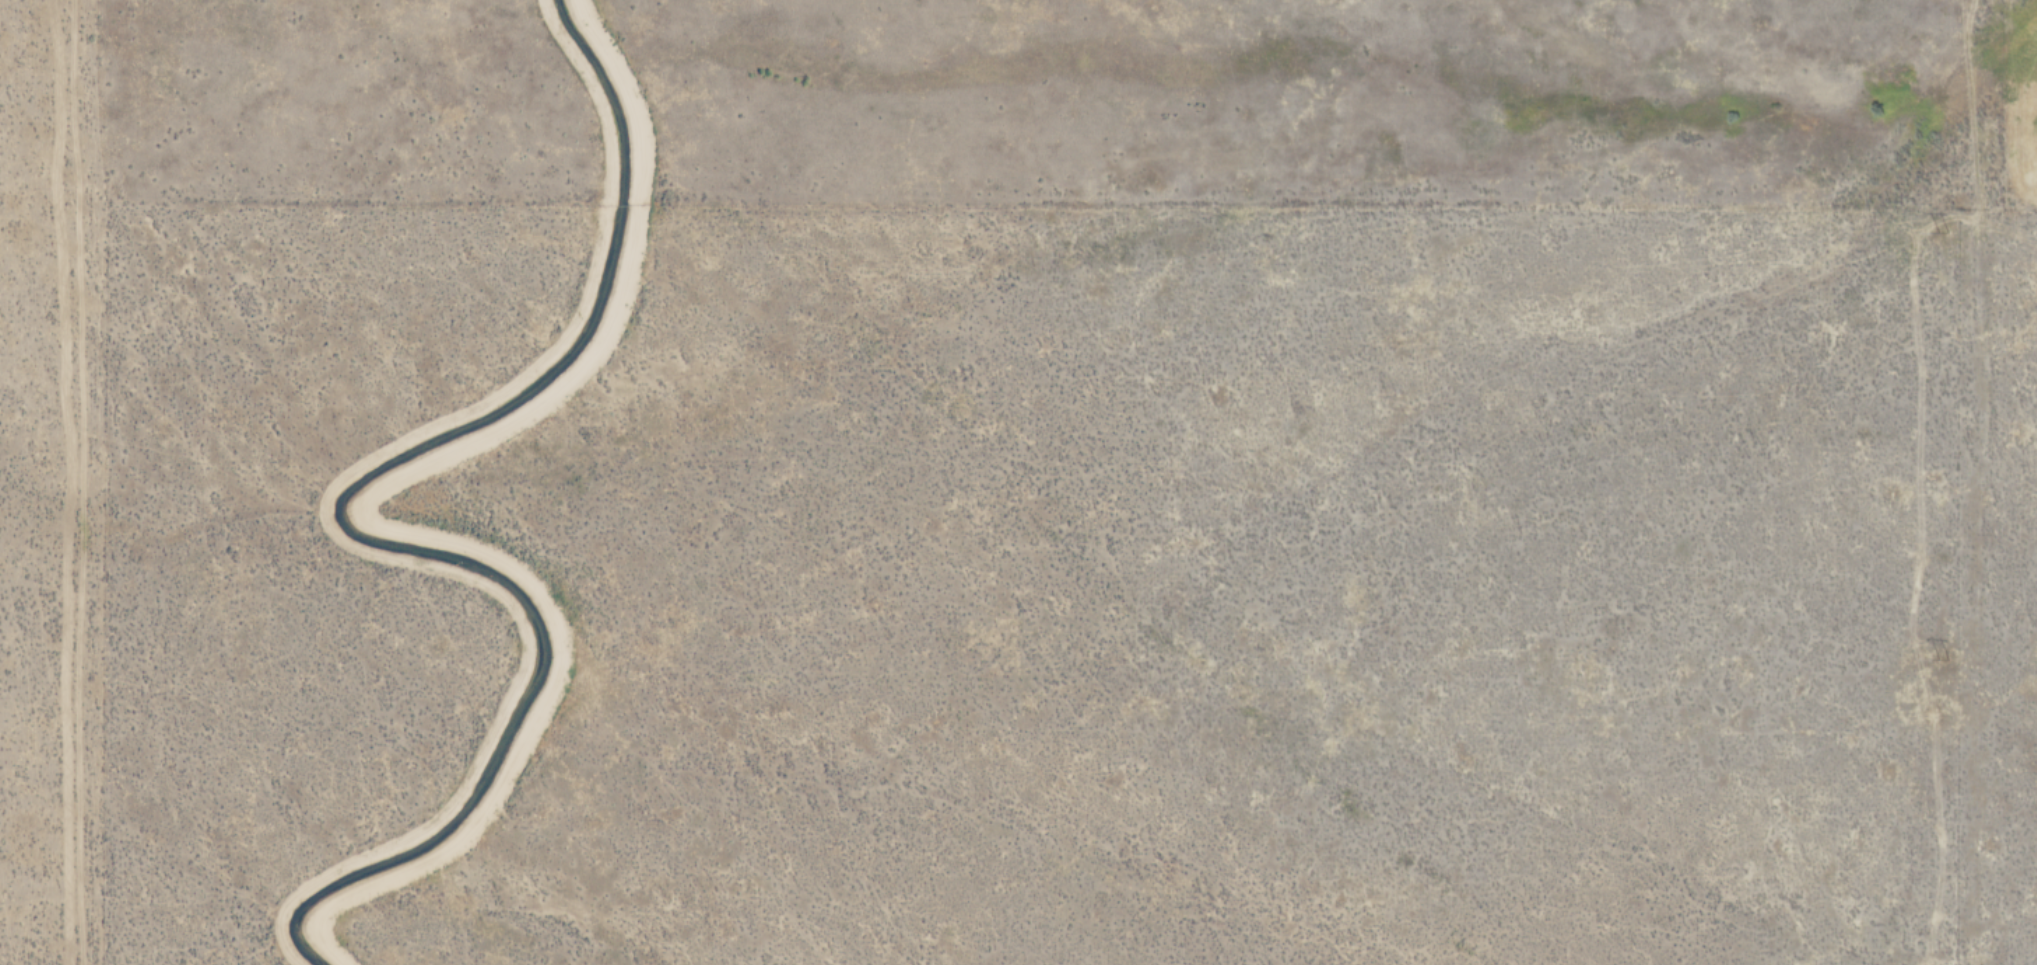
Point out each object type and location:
power tower: (1944, 228)
power tower: (1943, 654)

